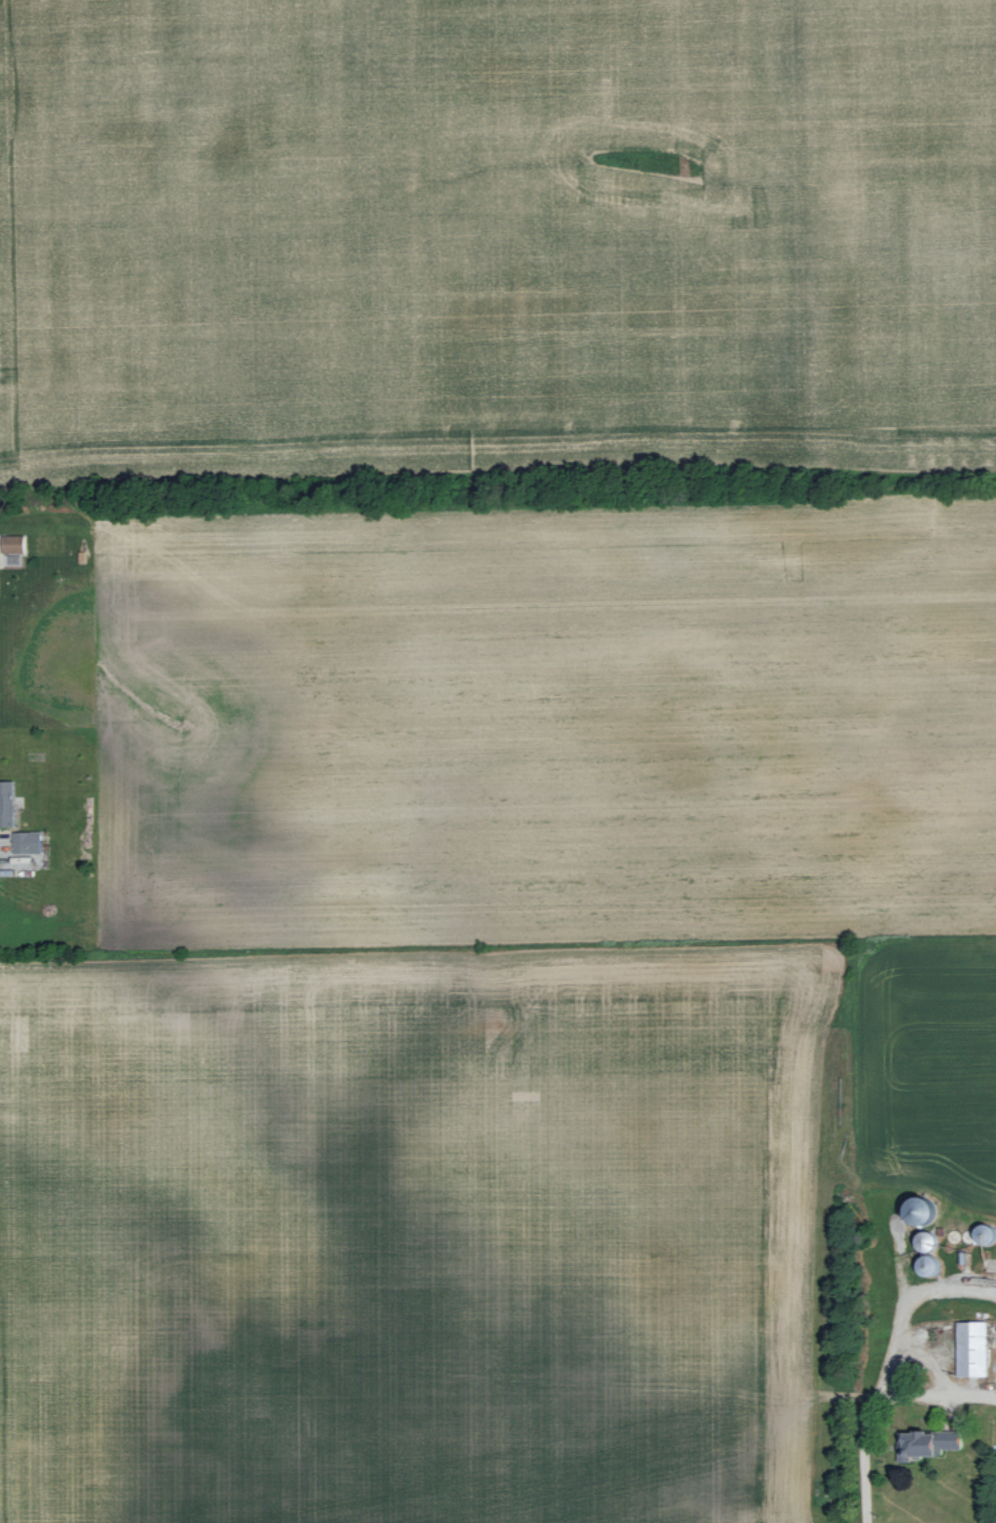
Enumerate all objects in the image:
building: (14, 543)
building: (7, 803)
building: (29, 841)
road: (905, 1300)
building: (974, 1349)
road: (931, 1393)
building: (936, 1443)
road: (863, 1462)

